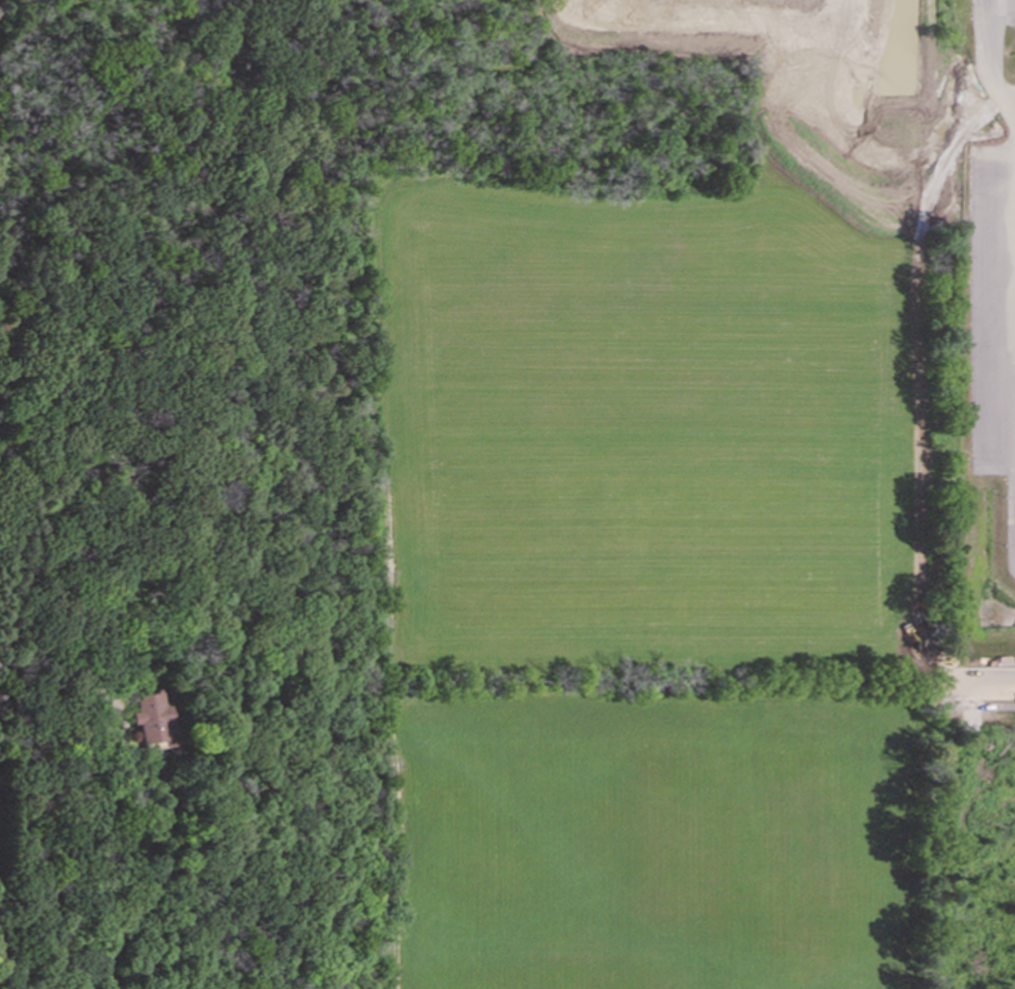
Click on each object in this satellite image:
road: (1002, 15)
road: (986, 64)
crop: (653, 583)
road: (987, 688)
road: (980, 707)
building: (156, 718)
road: (143, 881)

